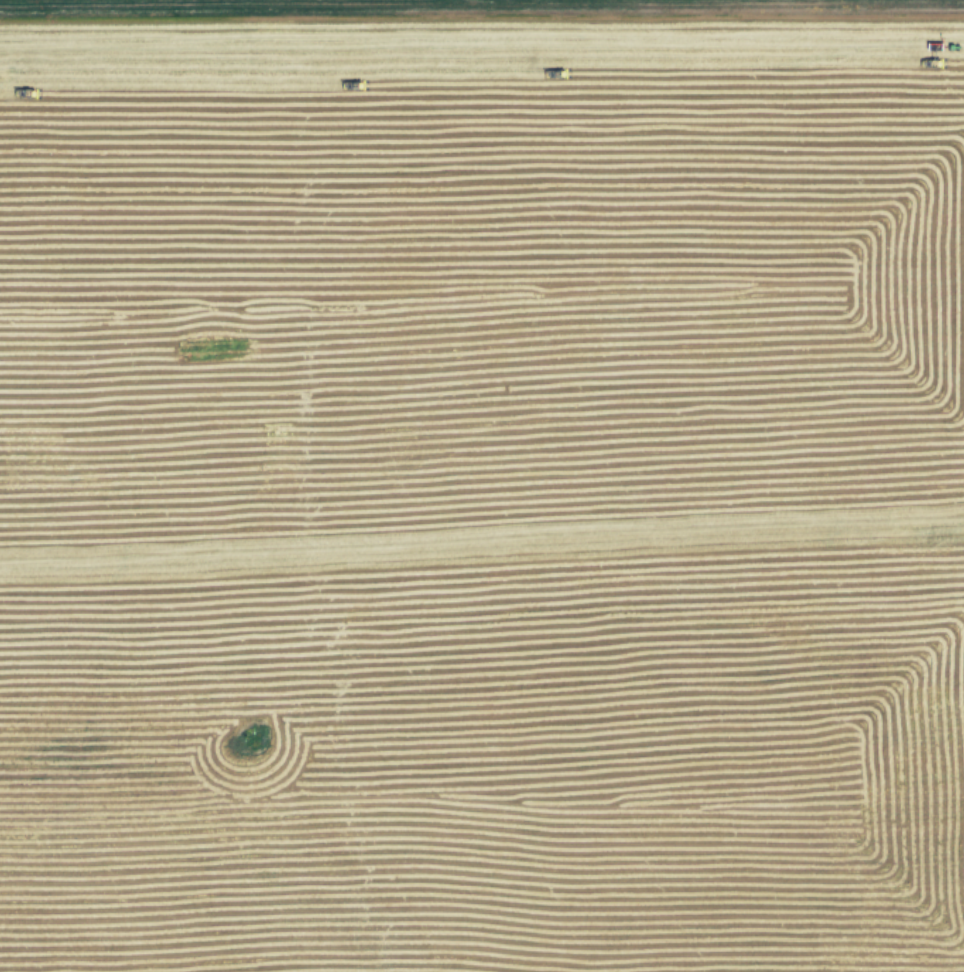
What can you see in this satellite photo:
crop: (482, 486)

